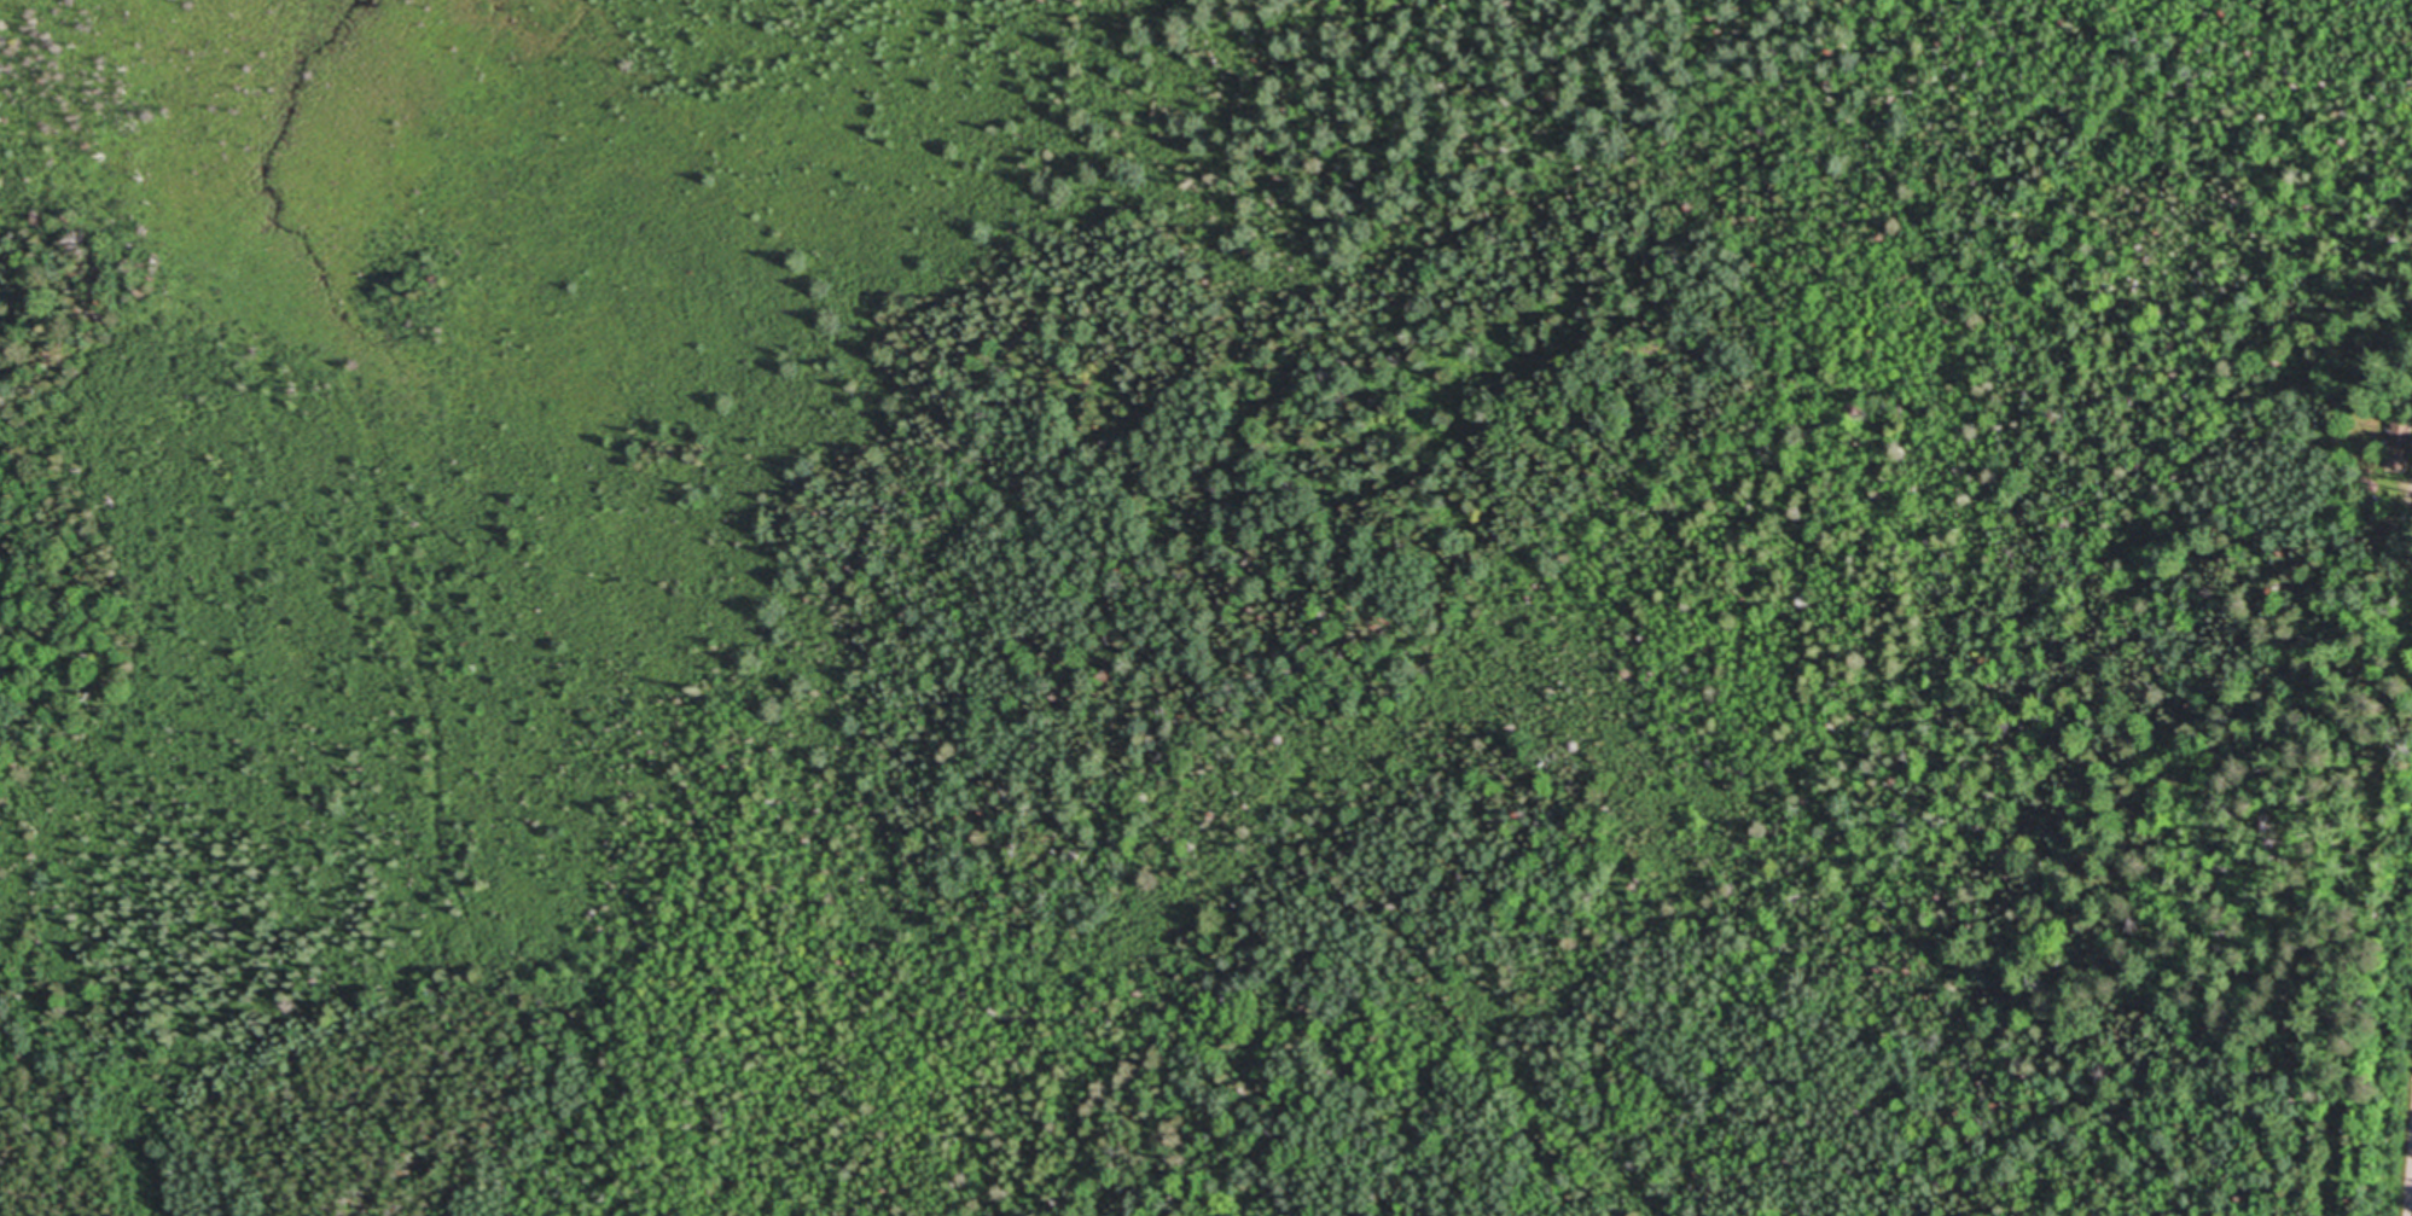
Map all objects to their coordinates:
building: (2401, 449)

